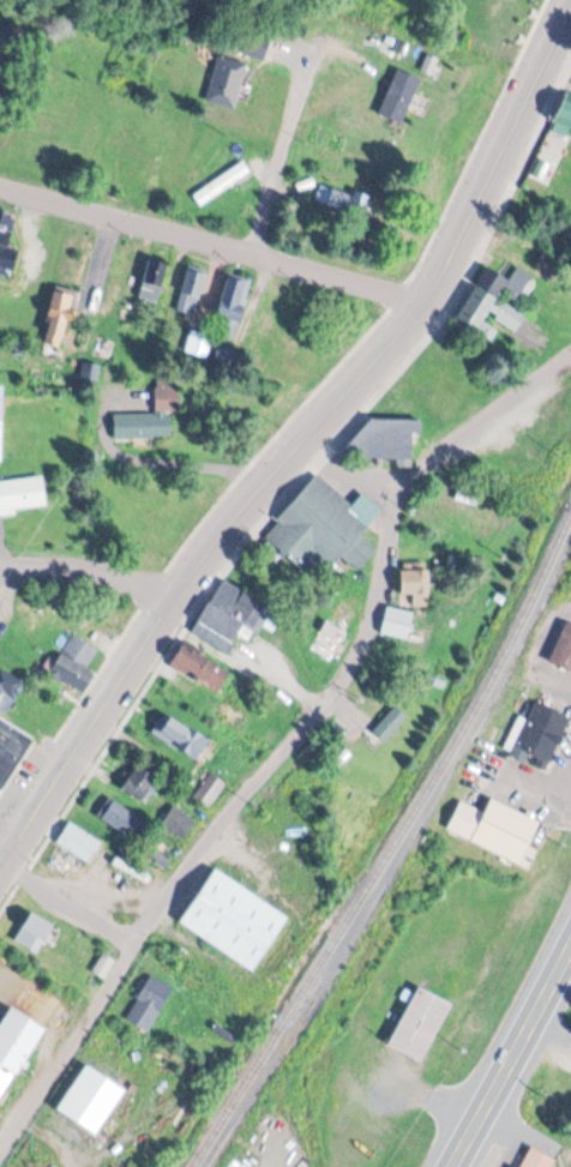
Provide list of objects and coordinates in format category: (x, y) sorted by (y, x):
building: (256, 42)
road: (344, 50)
building: (227, 82)
building: (0, 83)
building: (399, 96)
building: (565, 115)
road: (278, 155)
building: (222, 185)
building: (345, 203)
road: (212, 246)
building: (156, 282)
building: (192, 291)
building: (504, 301)
building: (232, 308)
building: (60, 319)
building: (199, 344)
building: (150, 420)
building: (1, 422)
building: (386, 437)
road: (295, 445)
road: (154, 463)
road: (347, 471)
building: (23, 495)
building: (325, 527)
road: (88, 571)
road: (12, 585)
building: (417, 586)
building: (232, 615)
building: (397, 624)
building: (336, 631)
building: (564, 649)
building: (76, 663)
building: (200, 669)
building: (10, 692)
building: (229, 710)
building: (390, 726)
building: (542, 735)
building: (181, 736)
road: (293, 742)
building: (11, 750)
building: (144, 781)
building: (212, 792)
road: (543, 793)
building: (124, 820)
building: (179, 823)
building: (497, 826)
railway: (397, 842)
building: (79, 843)
road: (2, 859)
road: (68, 902)
building: (234, 918)
building: (35, 933)
building: (150, 1004)
building: (420, 1023)
building: (16, 1045)
road: (512, 1055)
building: (94, 1097)
road: (434, 1100)
building: (535, 1157)

